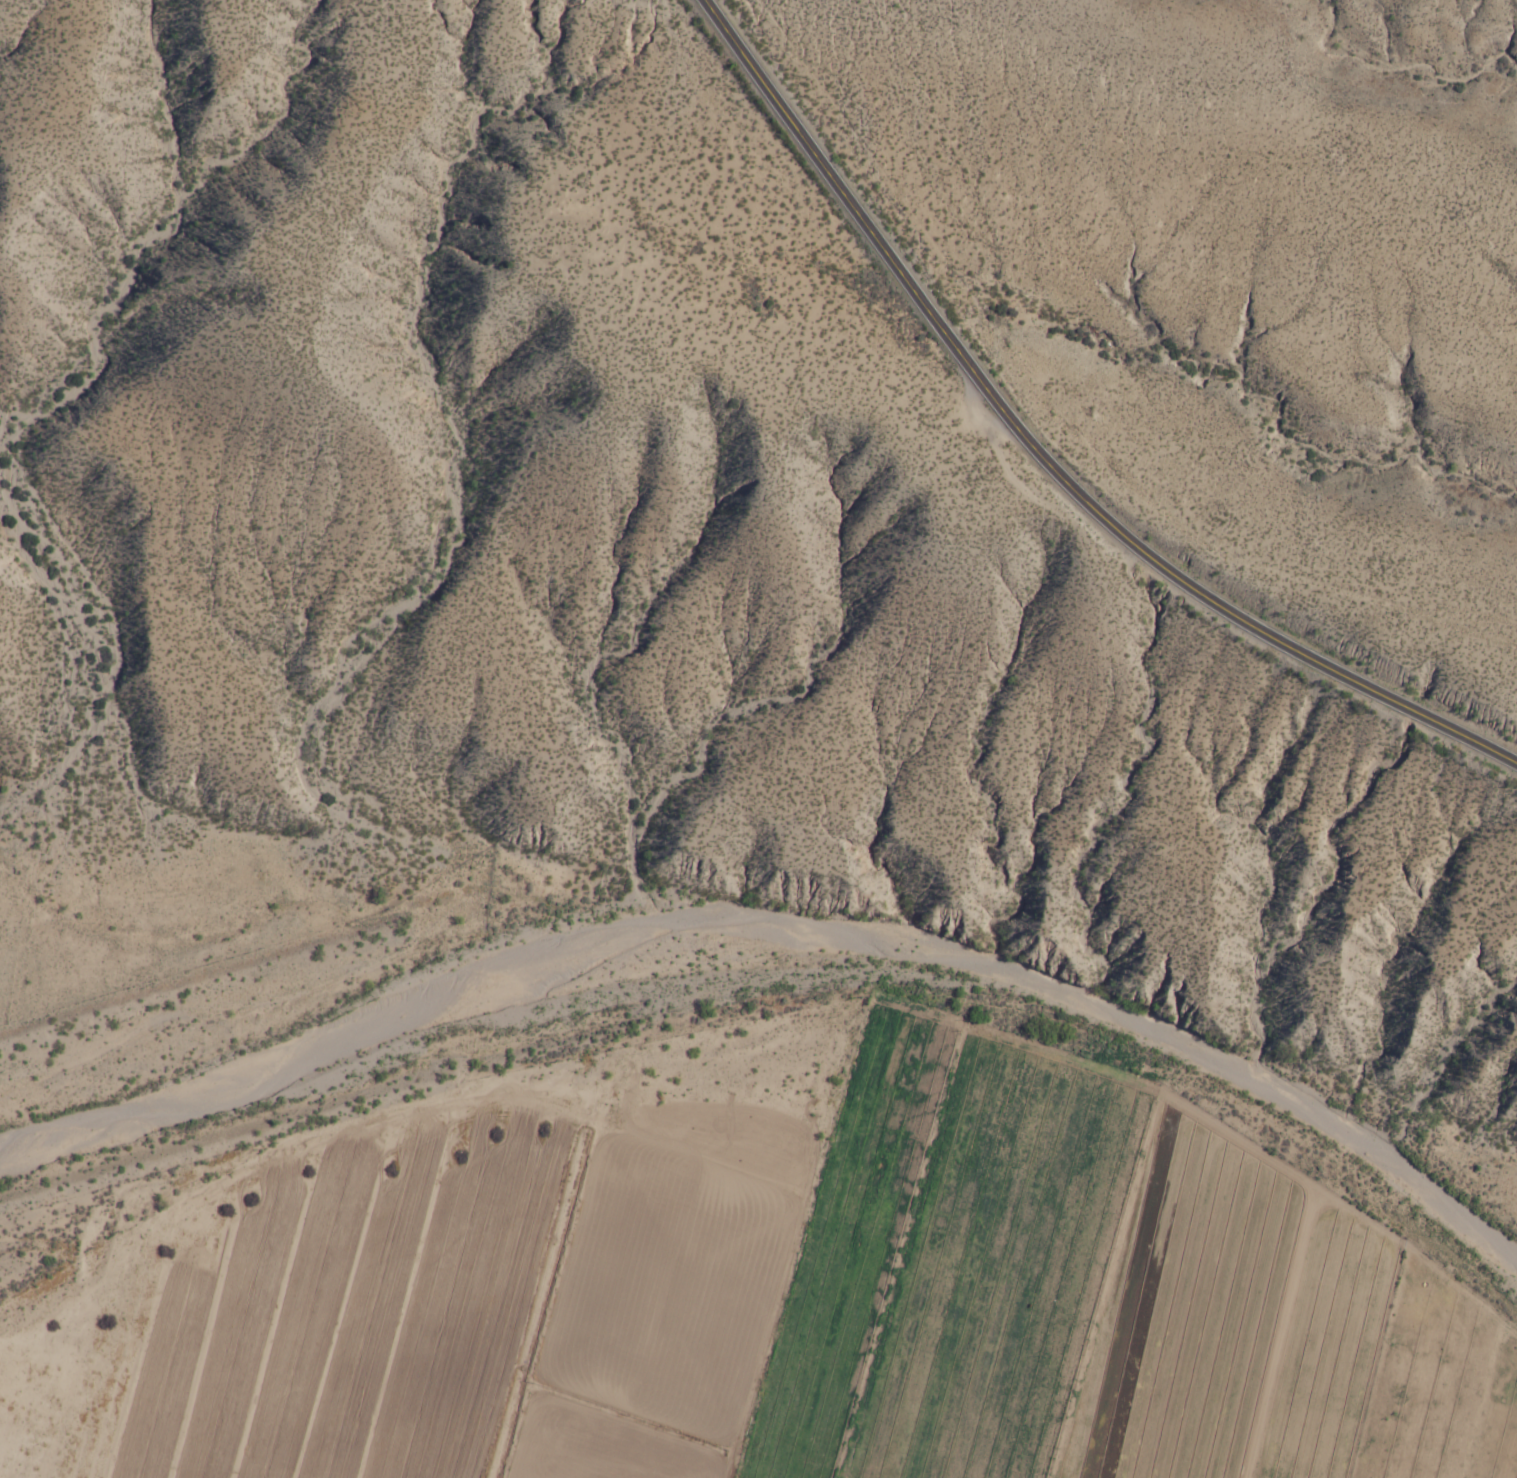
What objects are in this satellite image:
road: (1040, 459)

